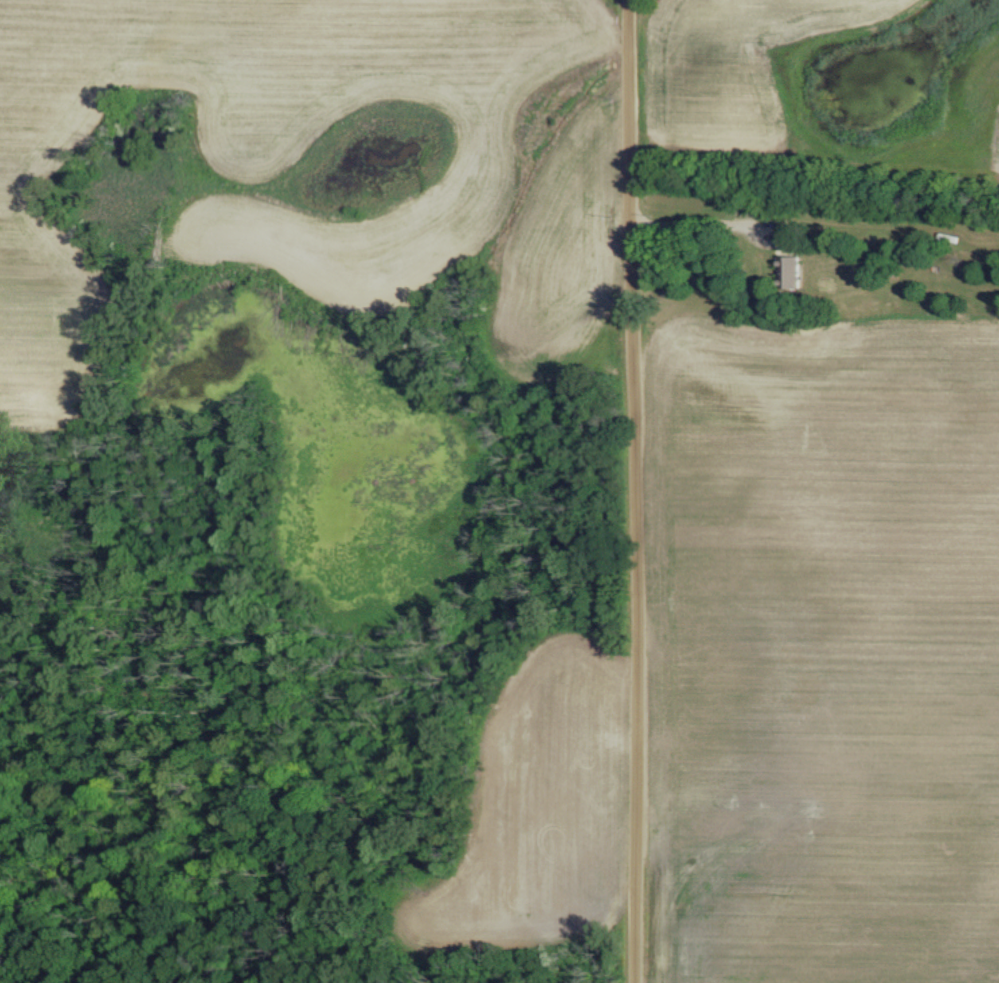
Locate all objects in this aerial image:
road: (700, 223)
building: (791, 240)
building: (789, 271)
road: (637, 491)

